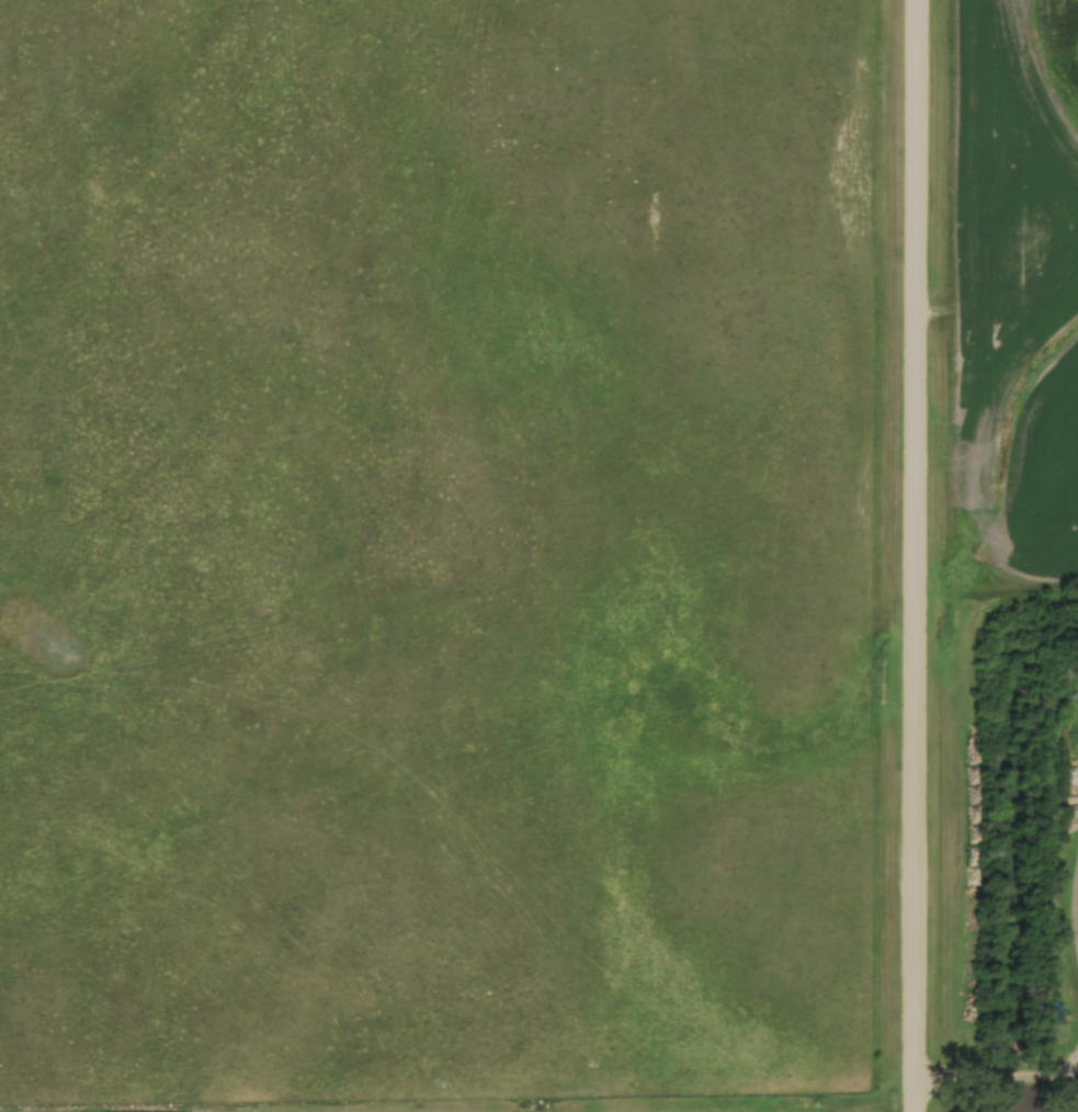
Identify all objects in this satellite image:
road: (915, 556)

